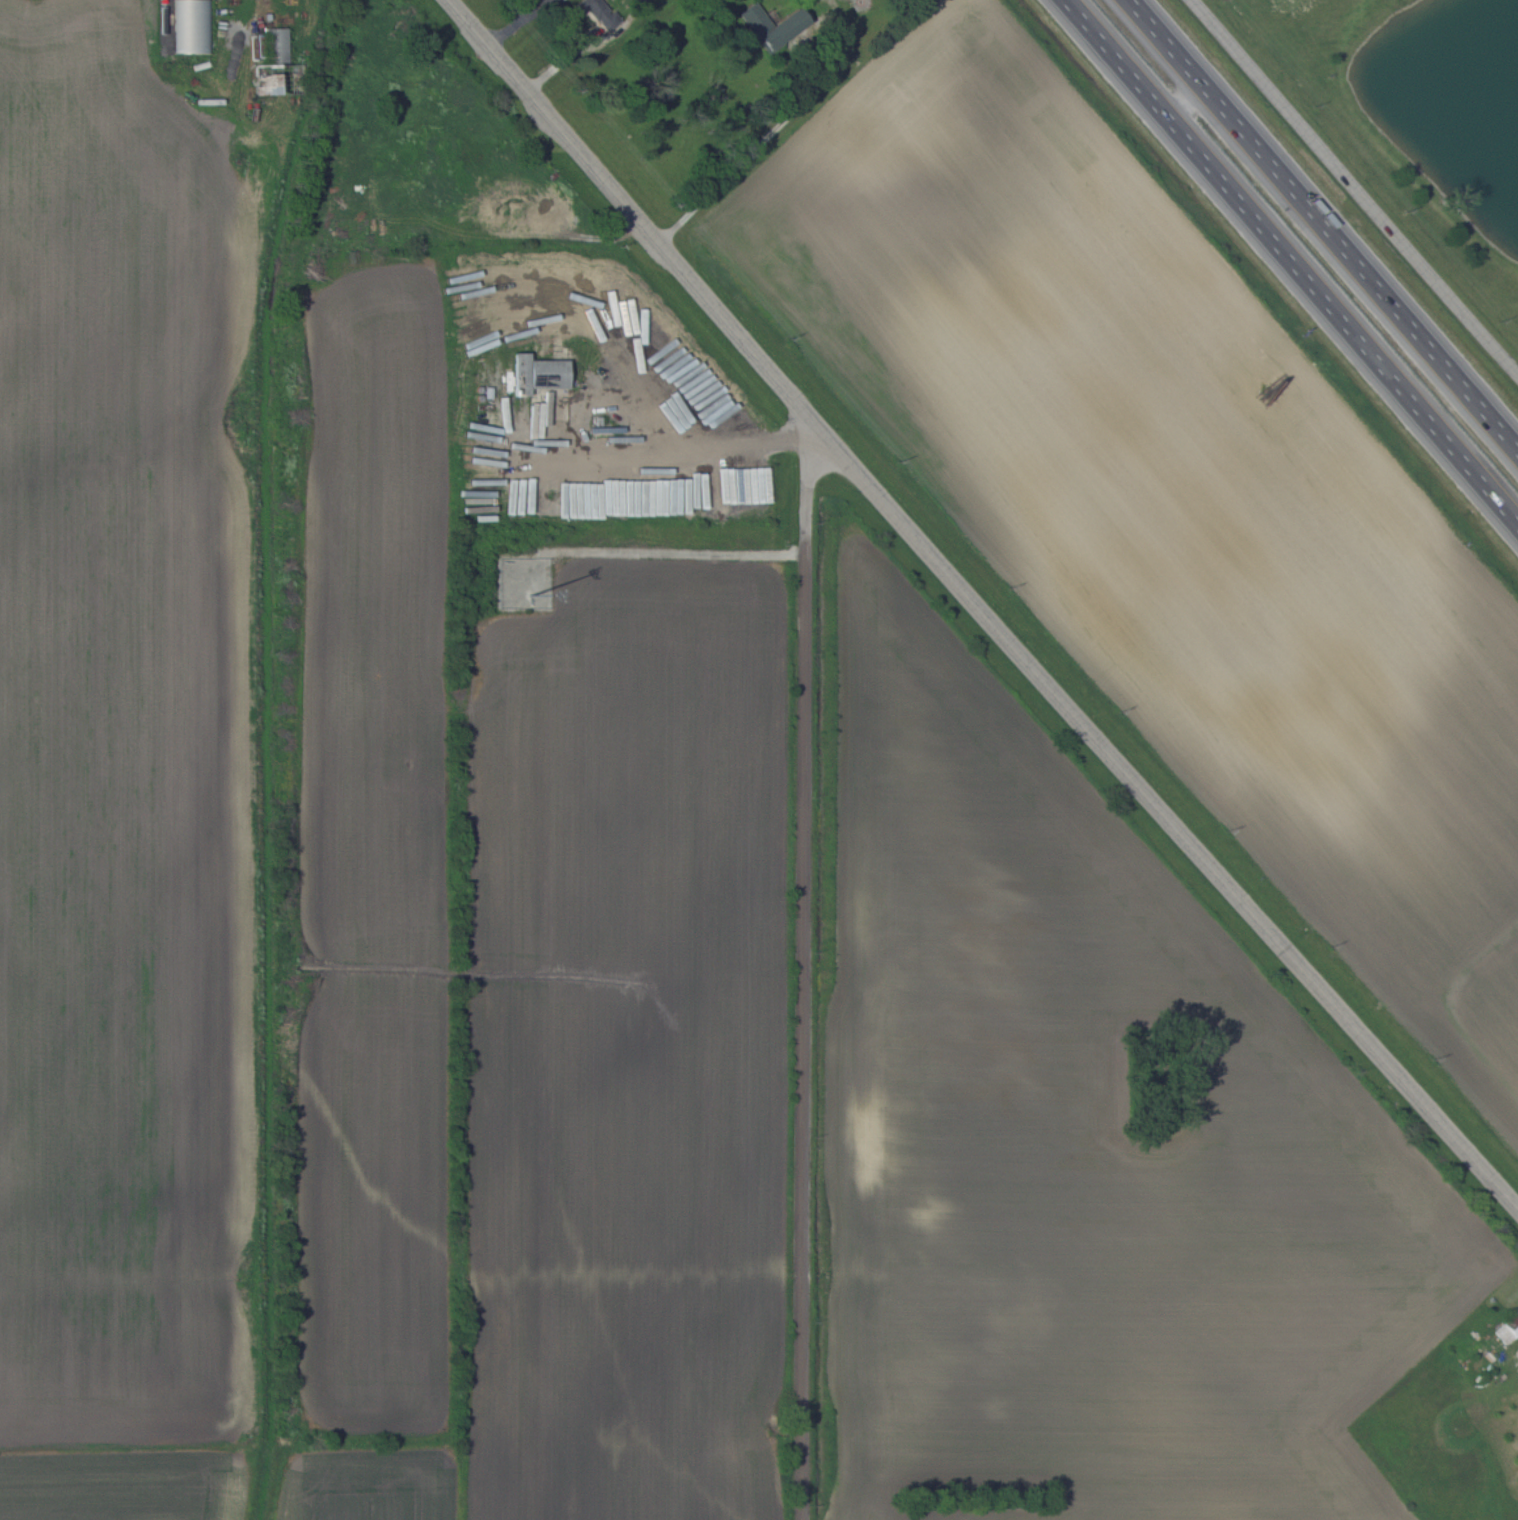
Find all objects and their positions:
building: (584, 5)
building: (769, 24)
building: (192, 26)
building: (278, 45)
building: (262, 76)
road: (1186, 103)
road: (768, 131)
road: (1354, 187)
road: (1322, 225)
road: (1290, 263)
building: (535, 373)
road: (662, 448)
road: (806, 485)
road: (676, 550)
road: (978, 608)
road: (802, 1035)

